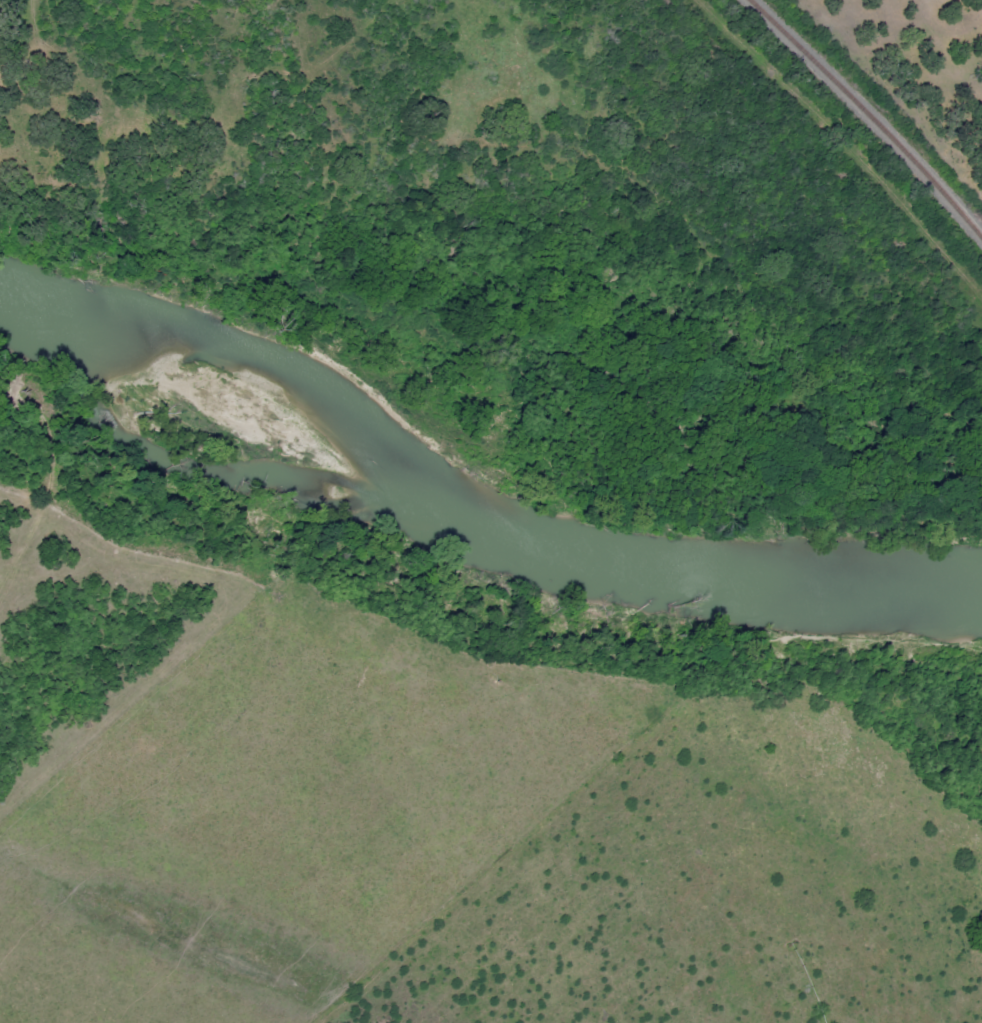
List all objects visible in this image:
road: (322, 66)
railway: (868, 118)
river: (479, 436)
road: (406, 983)

